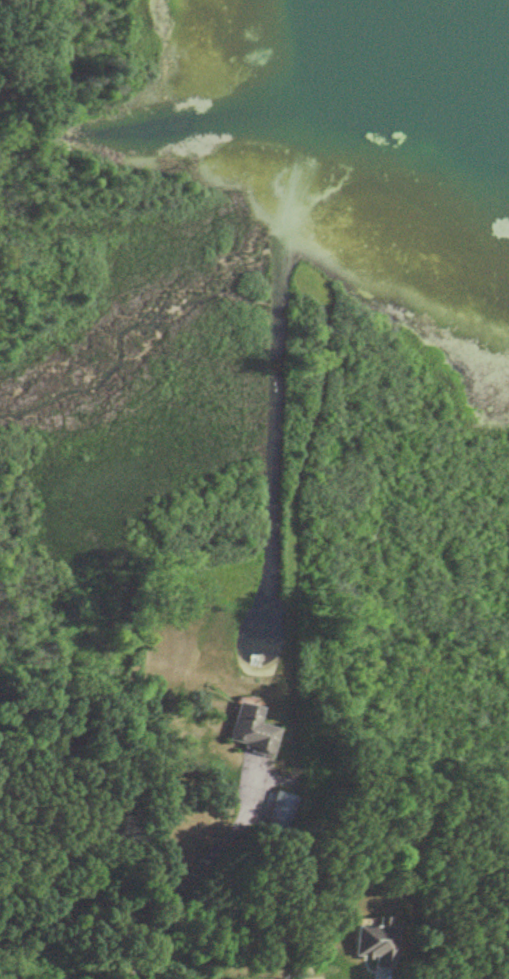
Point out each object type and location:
building: (250, 728)
building: (278, 811)
road: (210, 883)
building: (372, 941)

